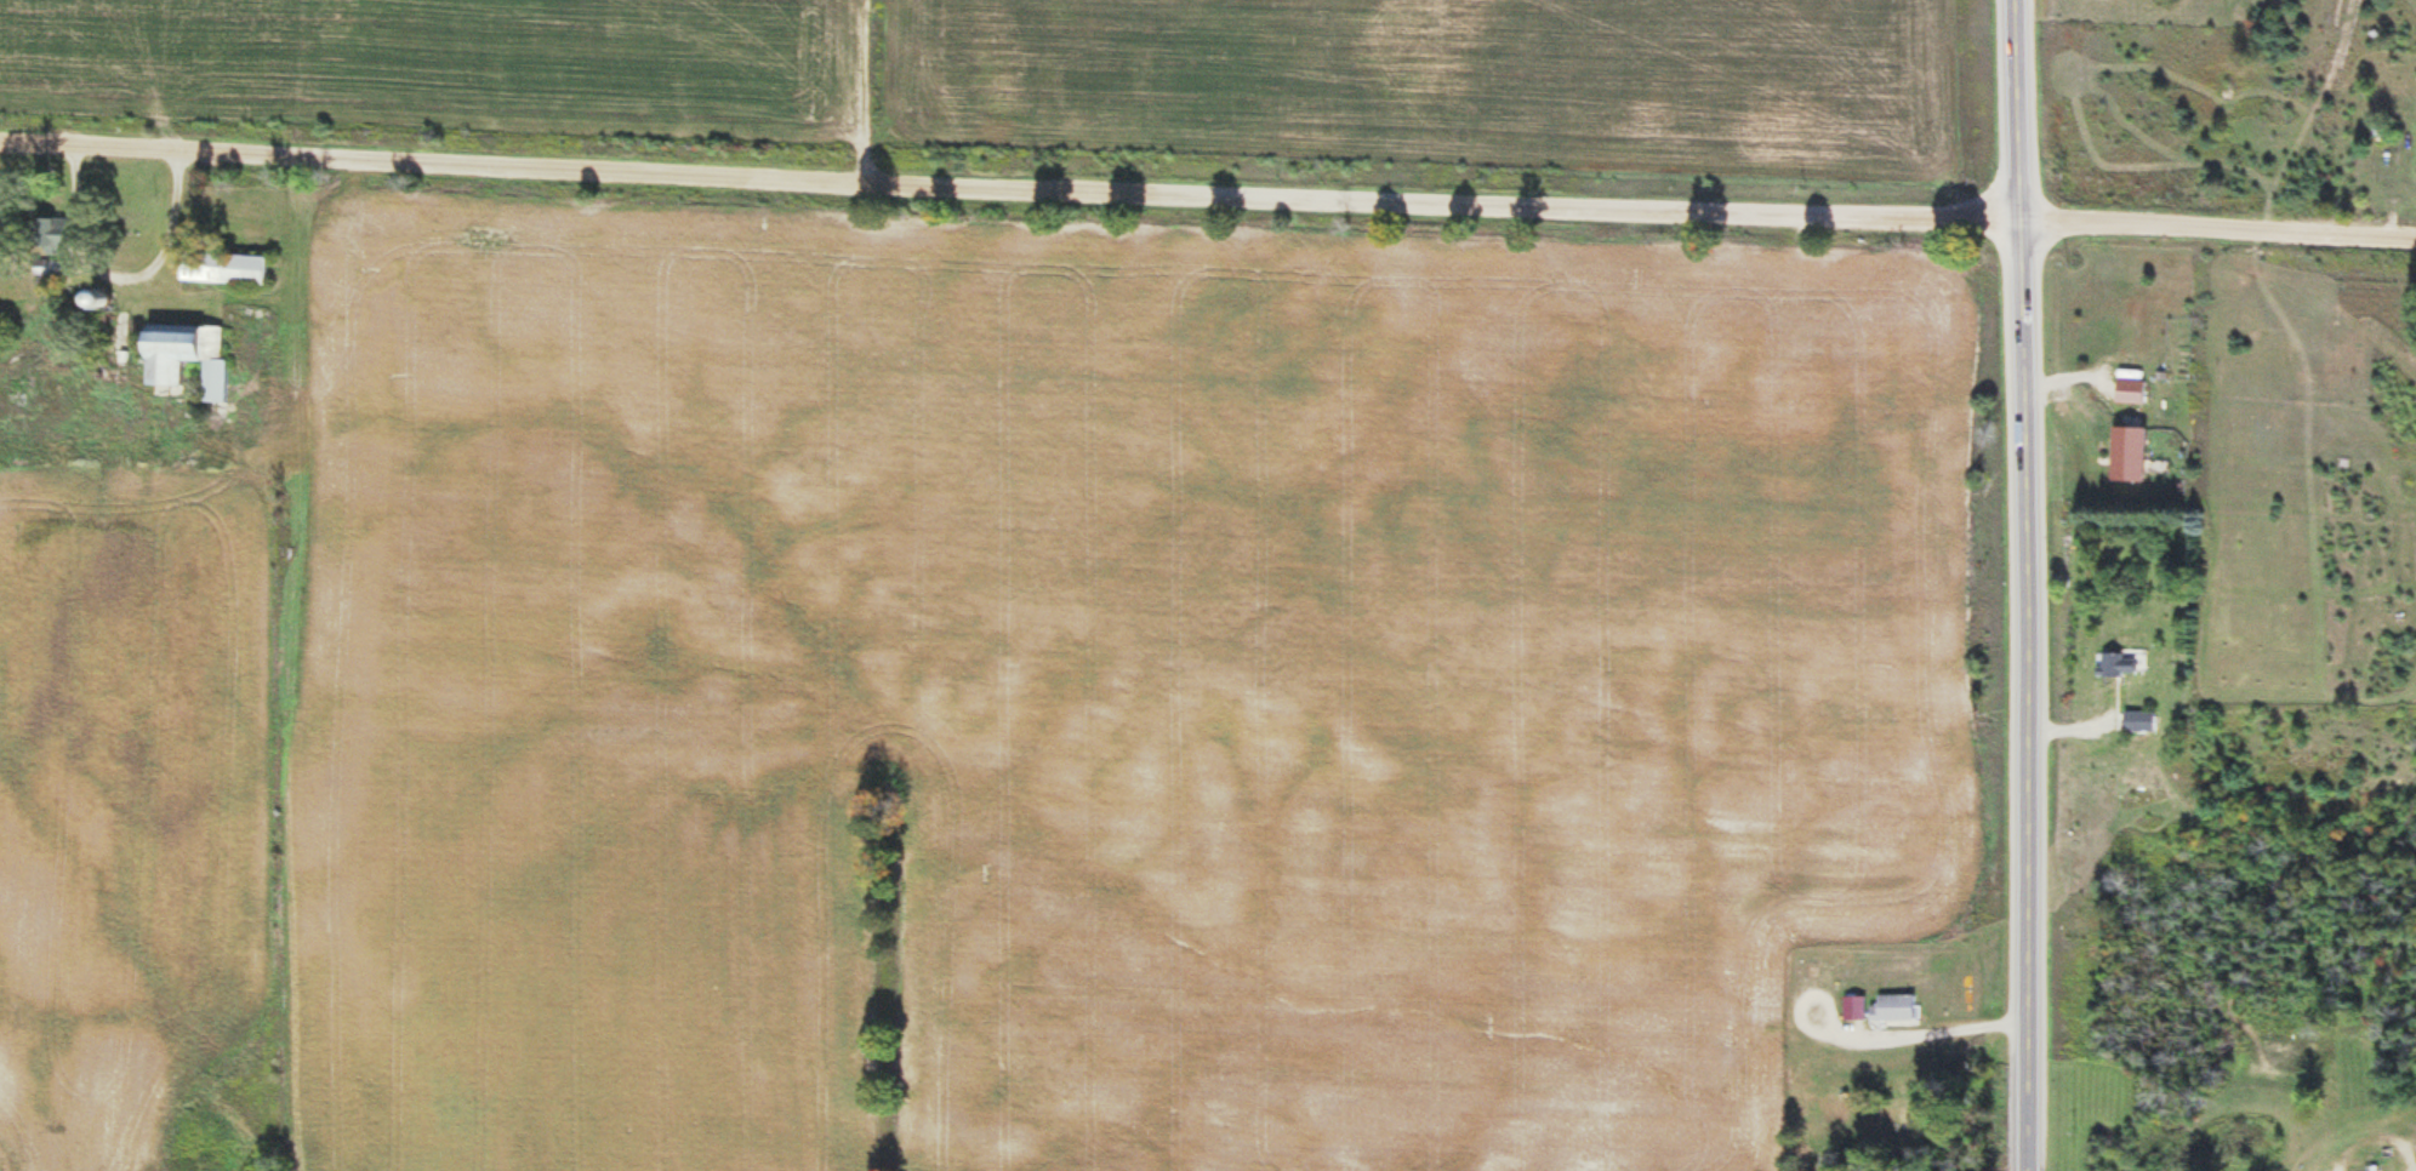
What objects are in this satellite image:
road: (1012, 177)
road: (2220, 216)
building: (47, 238)
building: (222, 269)
building: (93, 299)
building: (183, 358)
building: (2131, 393)
building: (2127, 456)
road: (2032, 584)
building: (2116, 667)
building: (2138, 724)
building: (1854, 1010)
building: (1893, 1011)
building: (2365, 1169)

